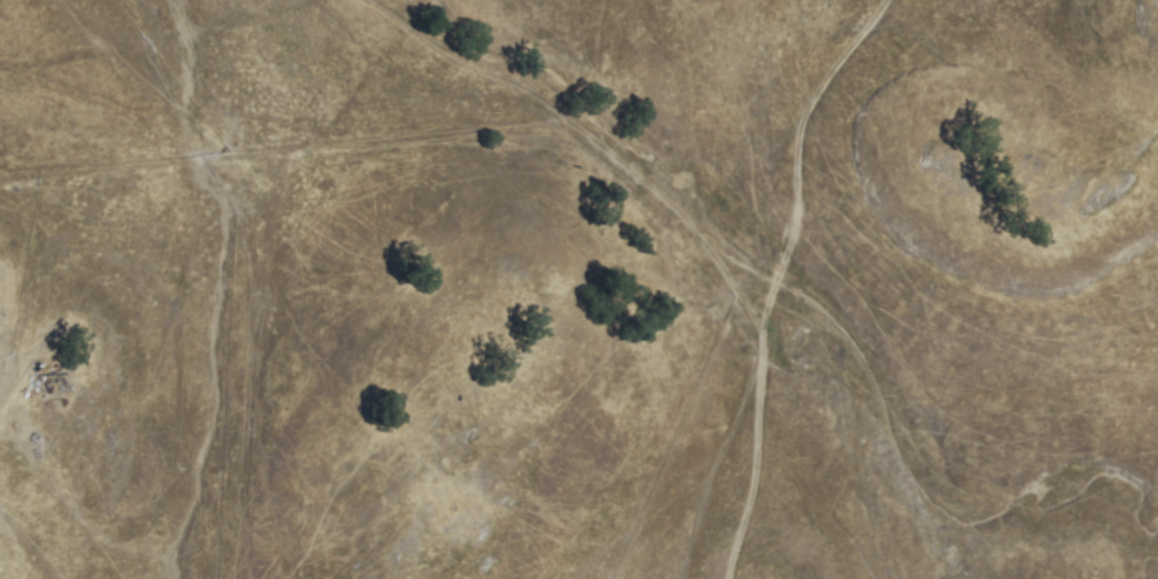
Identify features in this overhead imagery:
road: (32, 540)

